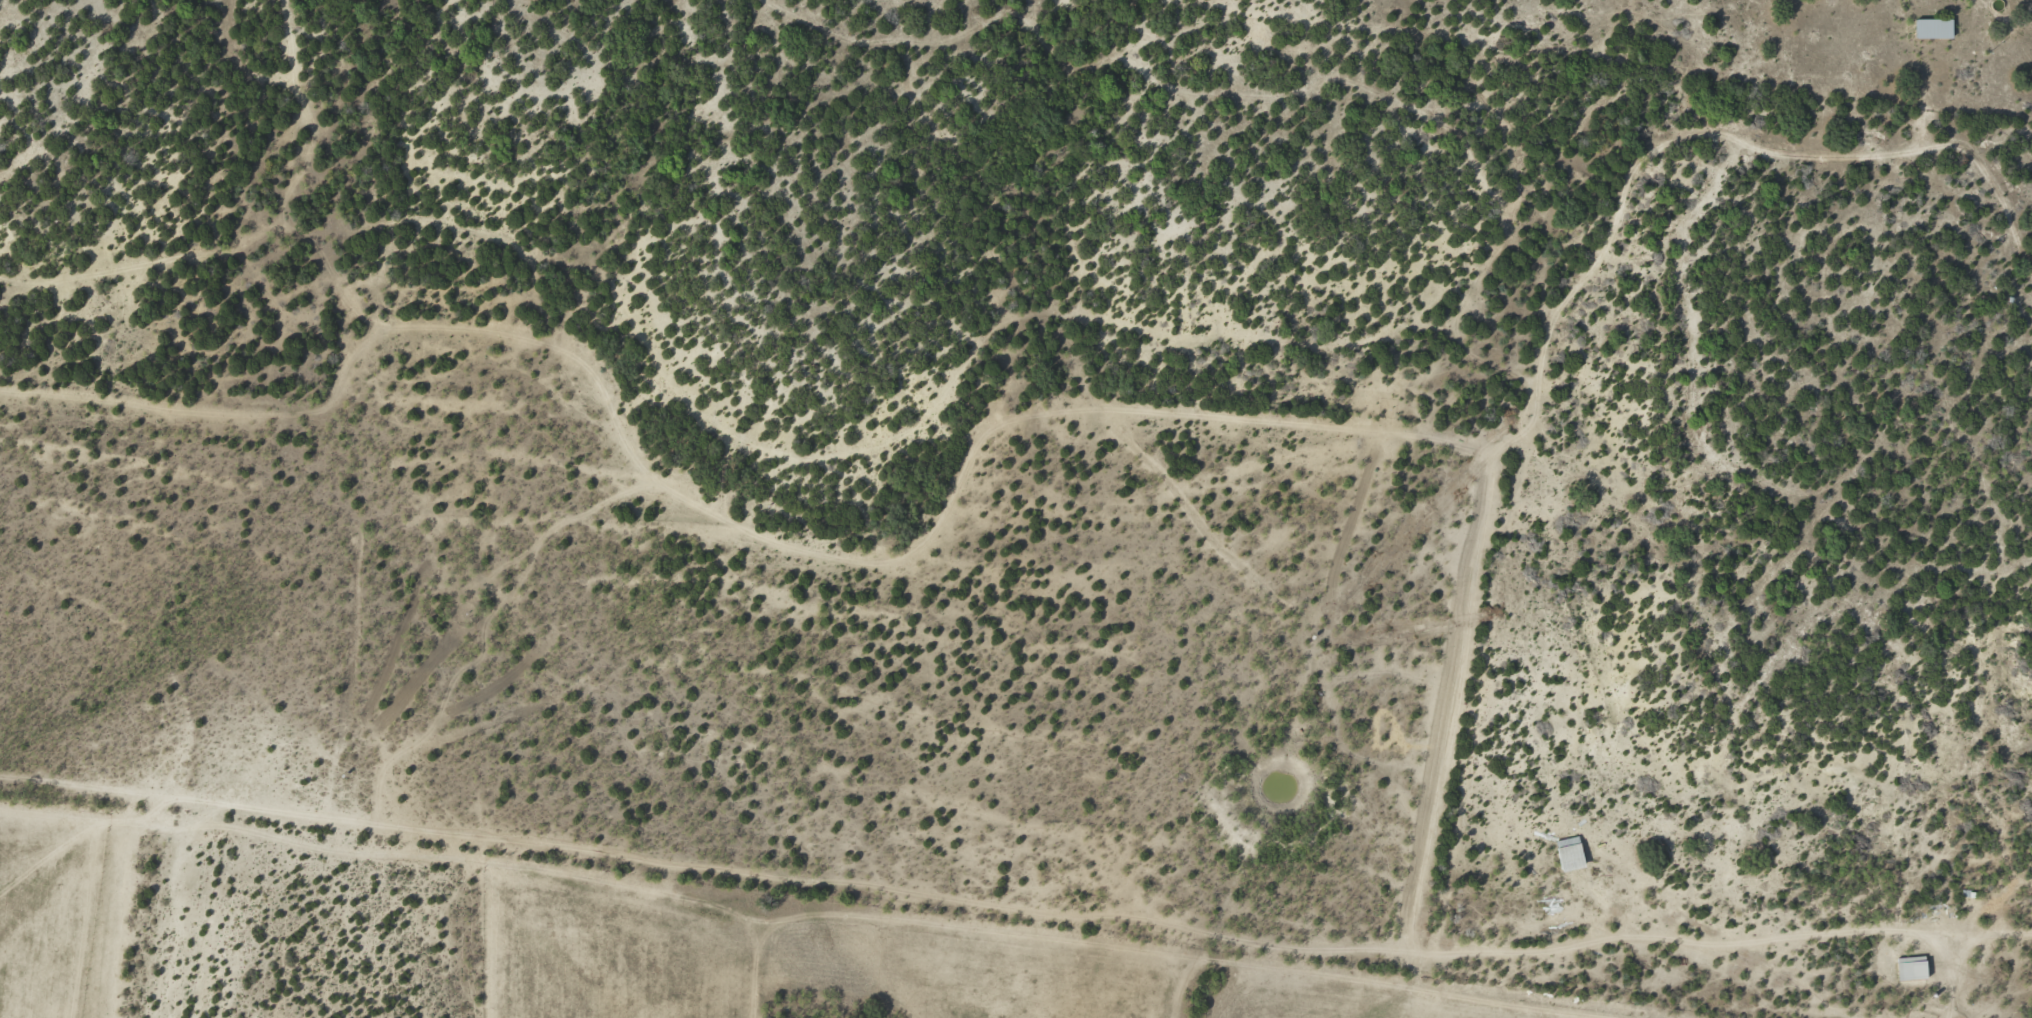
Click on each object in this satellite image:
building: (1932, 29)
building: (1910, 968)

